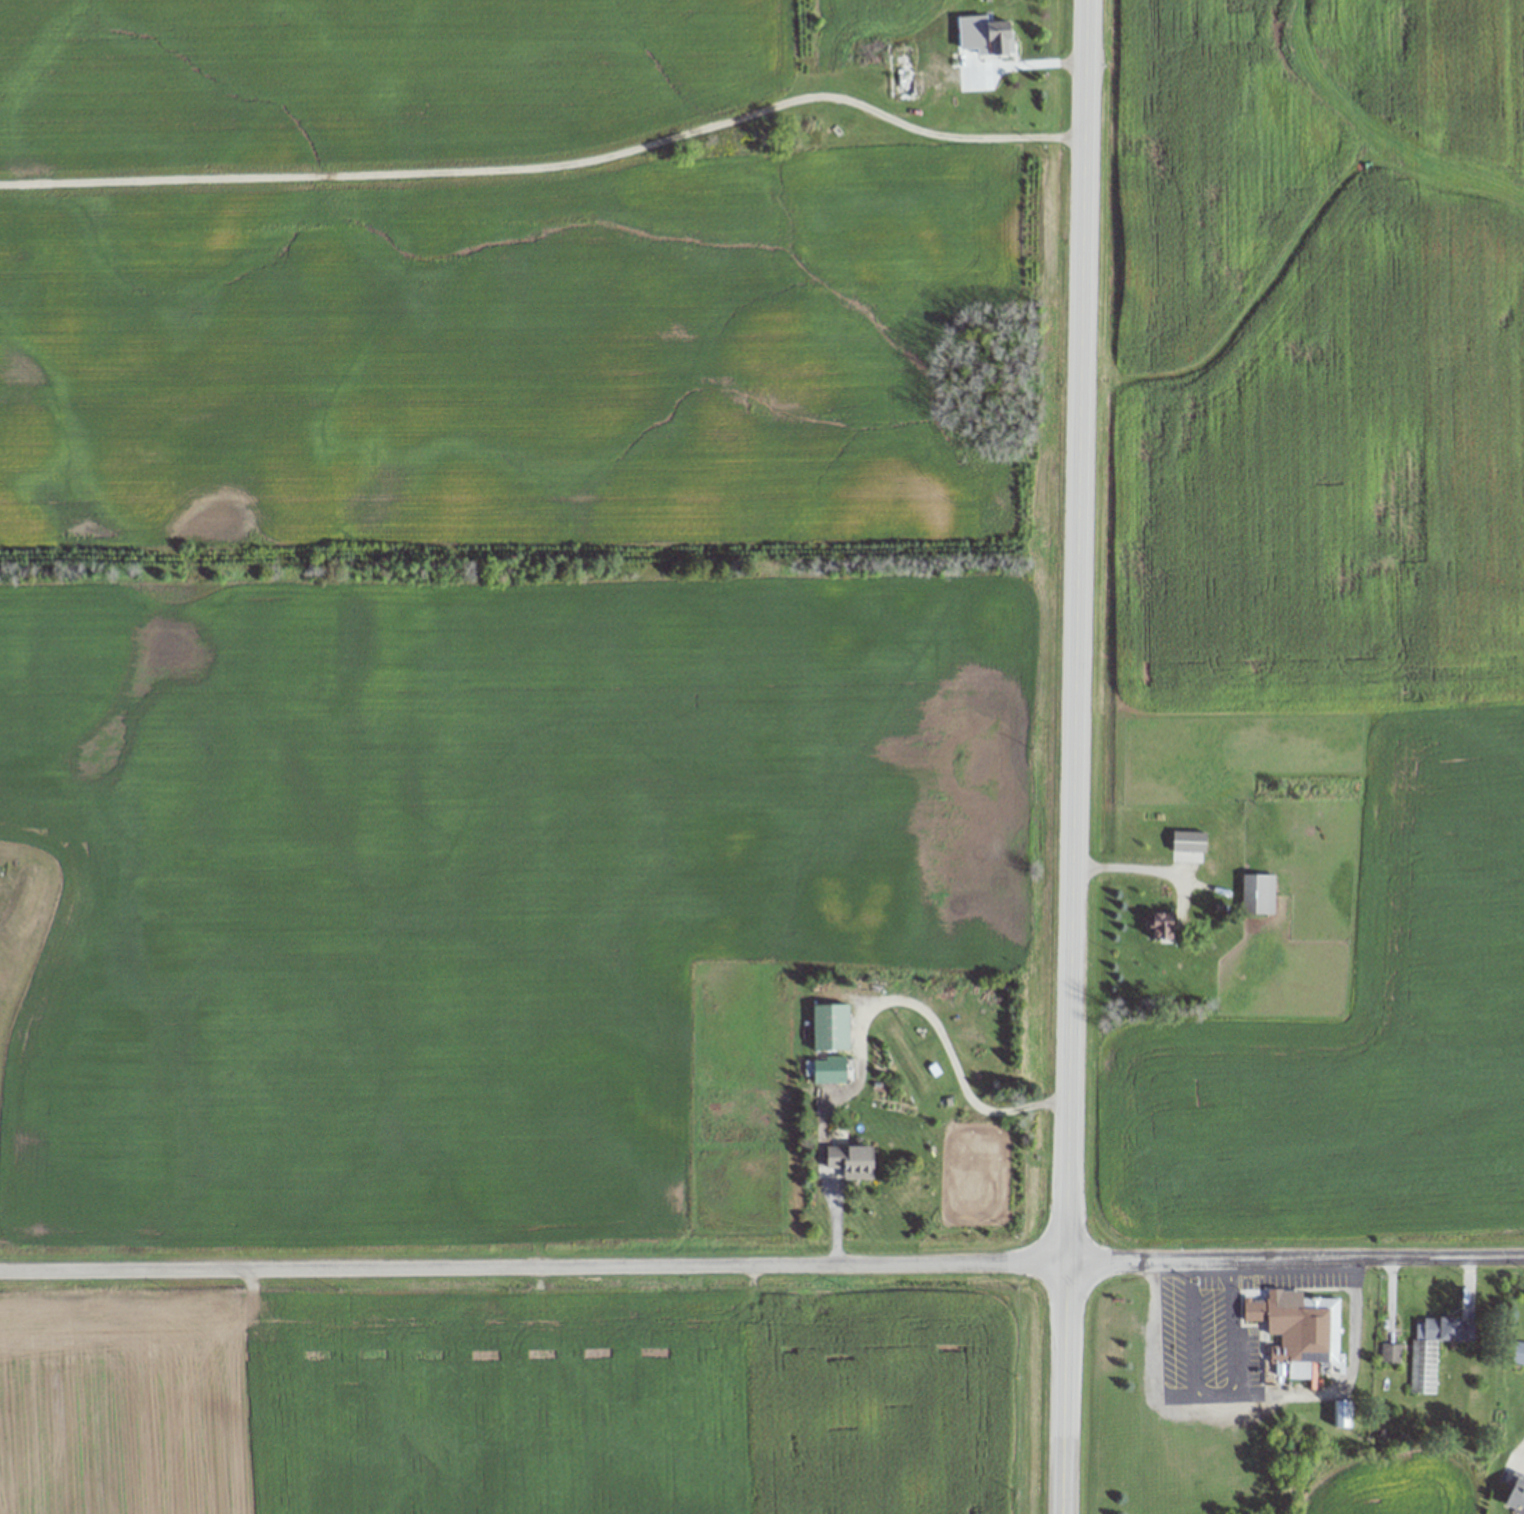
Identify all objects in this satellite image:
building: (985, 35)
road: (1032, 64)
building: (904, 70)
road: (550, 164)
road: (1072, 756)
building: (1188, 836)
road: (1132, 877)
building: (1258, 893)
building: (1164, 925)
road: (864, 1012)
building: (831, 1026)
building: (830, 1070)
building: (852, 1161)
road: (761, 1262)
building: (1298, 1330)
road: (1151, 1346)
building: (1431, 1349)
building: (1390, 1352)
building: (1518, 1352)
road: (1344, 1376)
crop: (527, 1393)
road: (1212, 1394)
building: (1340, 1413)
road: (1523, 1464)
building: (1516, 1492)

